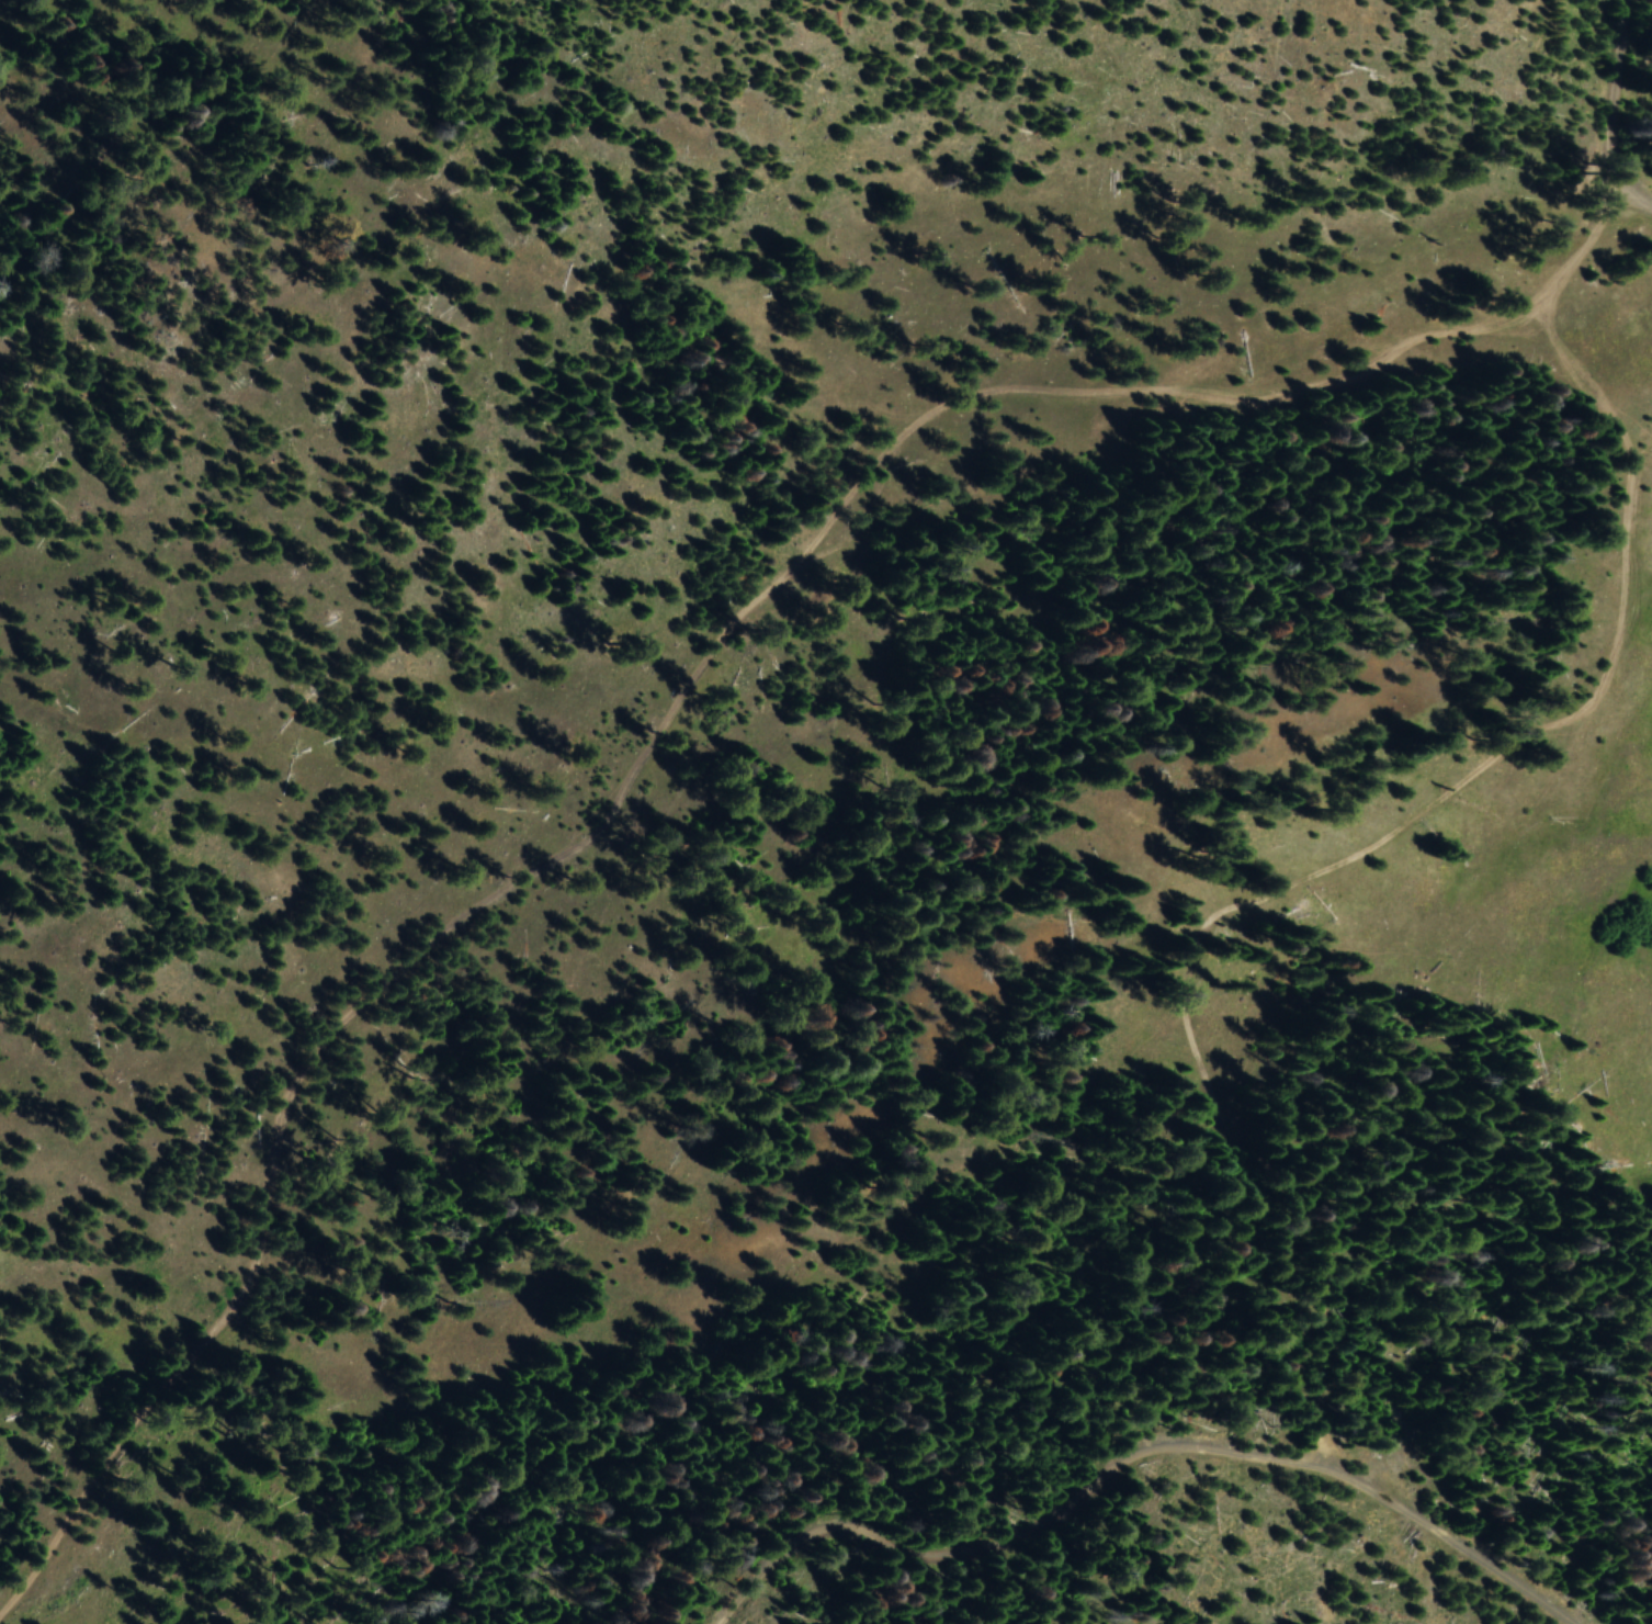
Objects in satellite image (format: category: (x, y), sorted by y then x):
road: (1613, 114)
road: (1630, 551)
road: (674, 707)
road: (1353, 857)
road: (1251, 1194)
road: (1153, 1485)

